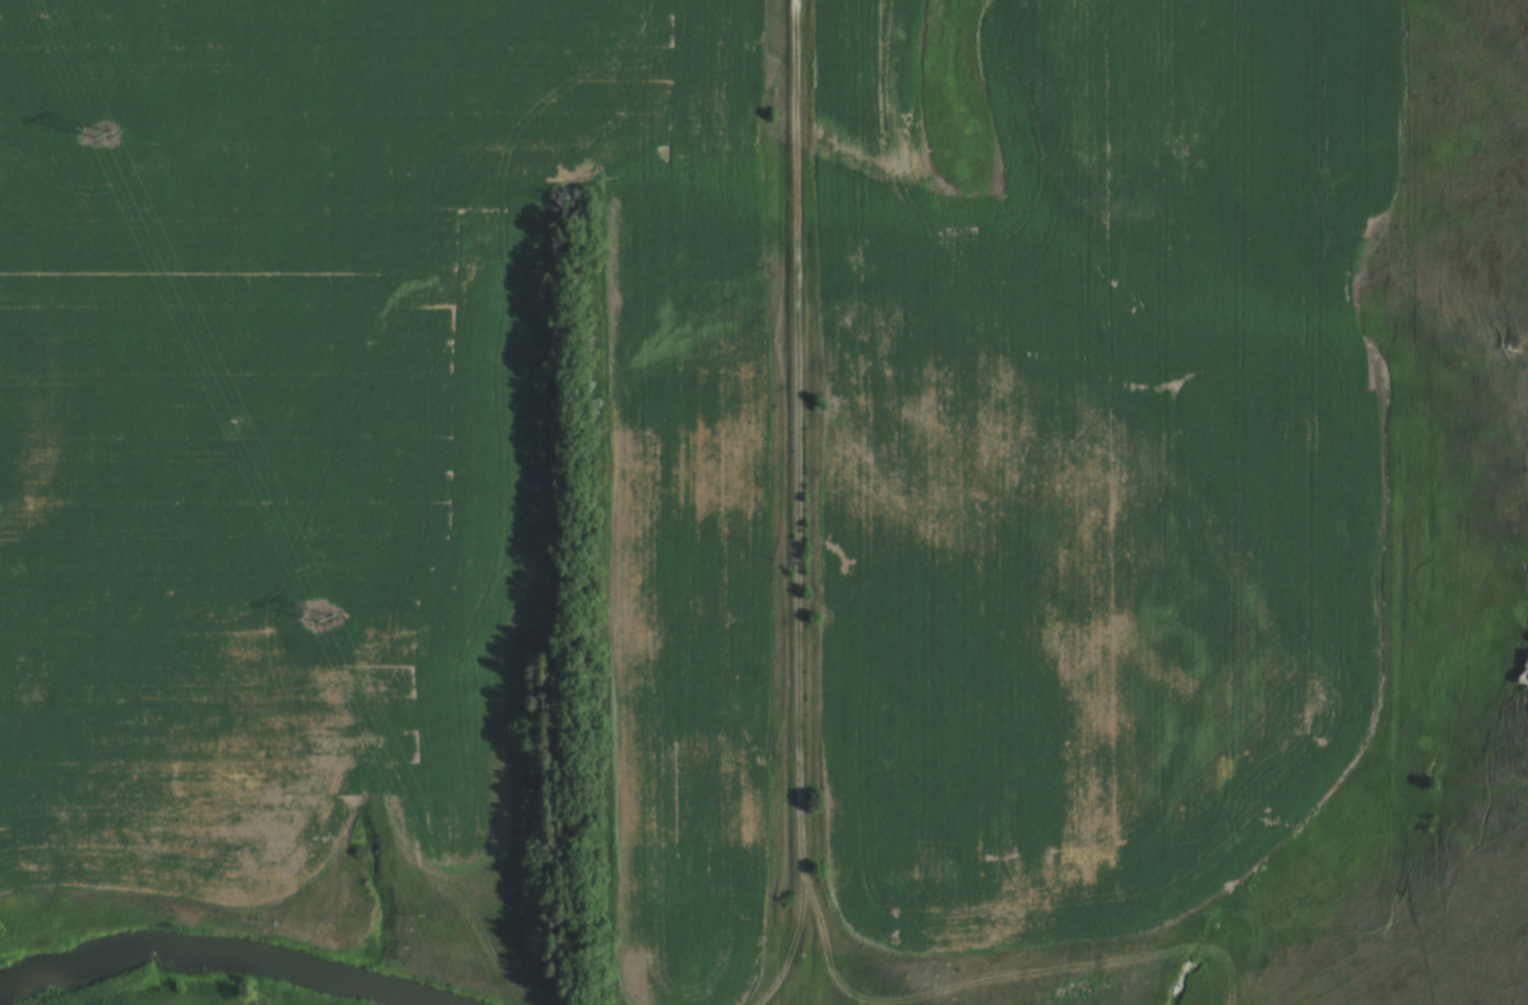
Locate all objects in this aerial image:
power tower: (88, 130)
road: (799, 445)
power tower: (314, 618)
road: (829, 948)
road: (792, 952)
road: (1077, 966)

